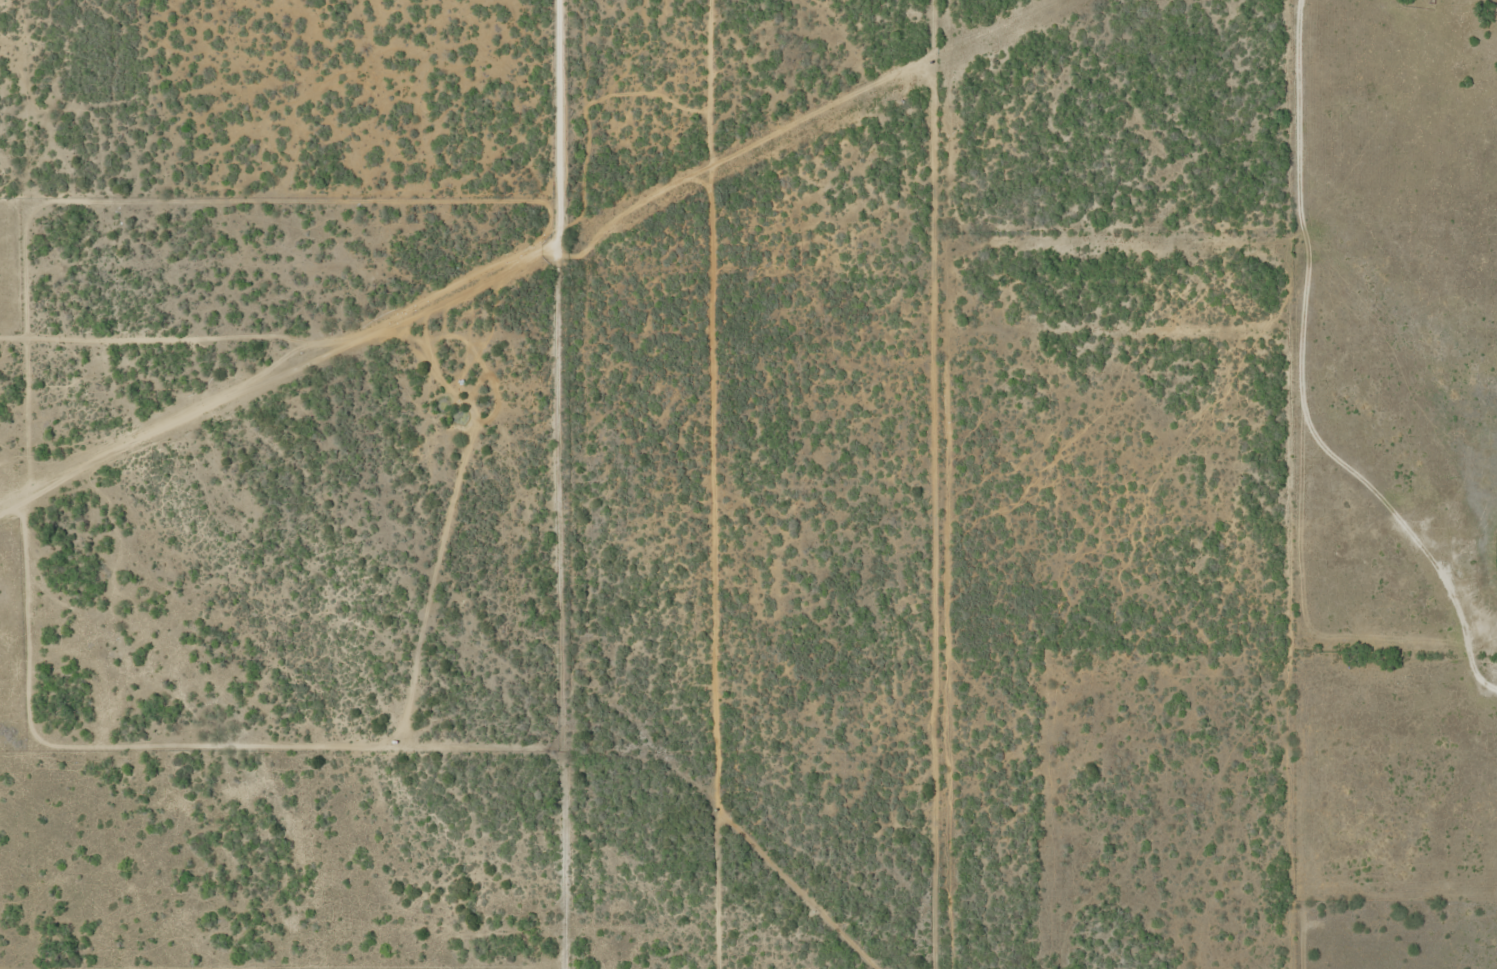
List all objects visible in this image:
road: (560, 484)

